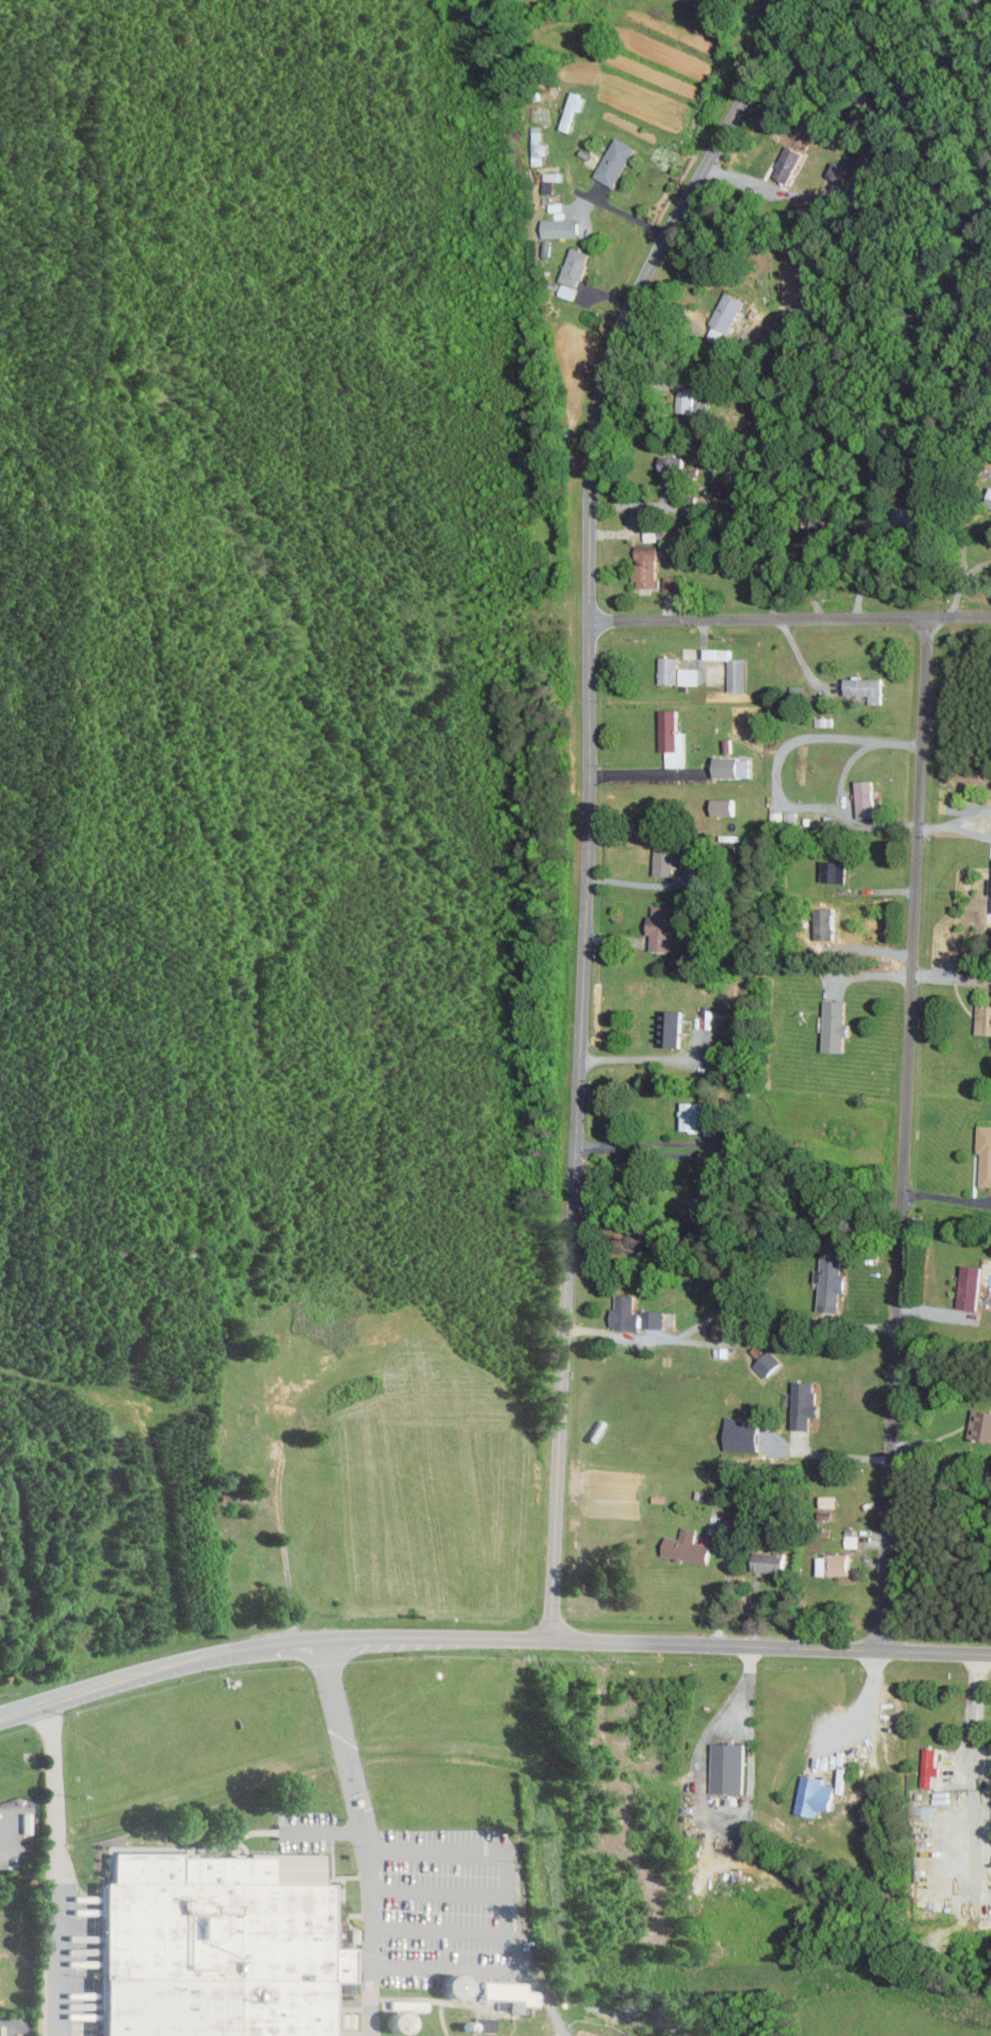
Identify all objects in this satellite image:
building: (574, 109)
building: (539, 146)
building: (617, 161)
building: (792, 163)
road: (621, 212)
building: (562, 228)
building: (577, 266)
building: (733, 308)
road: (703, 364)
building: (671, 469)
building: (917, 517)
building: (649, 569)
road: (865, 569)
road: (961, 582)
building: (672, 583)
road: (790, 619)
building: (672, 670)
building: (692, 676)
building: (866, 688)
building: (672, 730)
building: (735, 767)
road: (647, 774)
road: (773, 778)
road: (586, 797)
building: (868, 799)
building: (725, 806)
road: (967, 816)
road: (932, 827)
road: (967, 831)
building: (668, 859)
building: (833, 871)
road: (640, 883)
building: (663, 928)
road: (860, 976)
building: (985, 1019)
building: (837, 1026)
building: (672, 1028)
road: (642, 1058)
building: (692, 1116)
road: (903, 1133)
road: (690, 1144)
building: (986, 1154)
road: (946, 1198)
building: (834, 1283)
building: (973, 1287)
building: (636, 1315)
road: (700, 1323)
building: (724, 1331)
building: (770, 1364)
building: (805, 1404)
building: (982, 1425)
road: (835, 1456)
building: (853, 1539)
building: (691, 1547)
building: (771, 1562)
building: (837, 1565)
road: (723, 1597)
road: (490, 1637)
building: (932, 1767)
building: (731, 1769)
road: (967, 1775)
building: (817, 1796)
road: (56, 1798)
building: (929, 1812)
road: (8, 1822)
road: (326, 1831)
road: (368, 1834)
road: (508, 1914)
building: (216, 1945)
road: (58, 1966)
building: (466, 1984)
building: (515, 1994)
building: (413, 2010)
building: (489, 2023)

